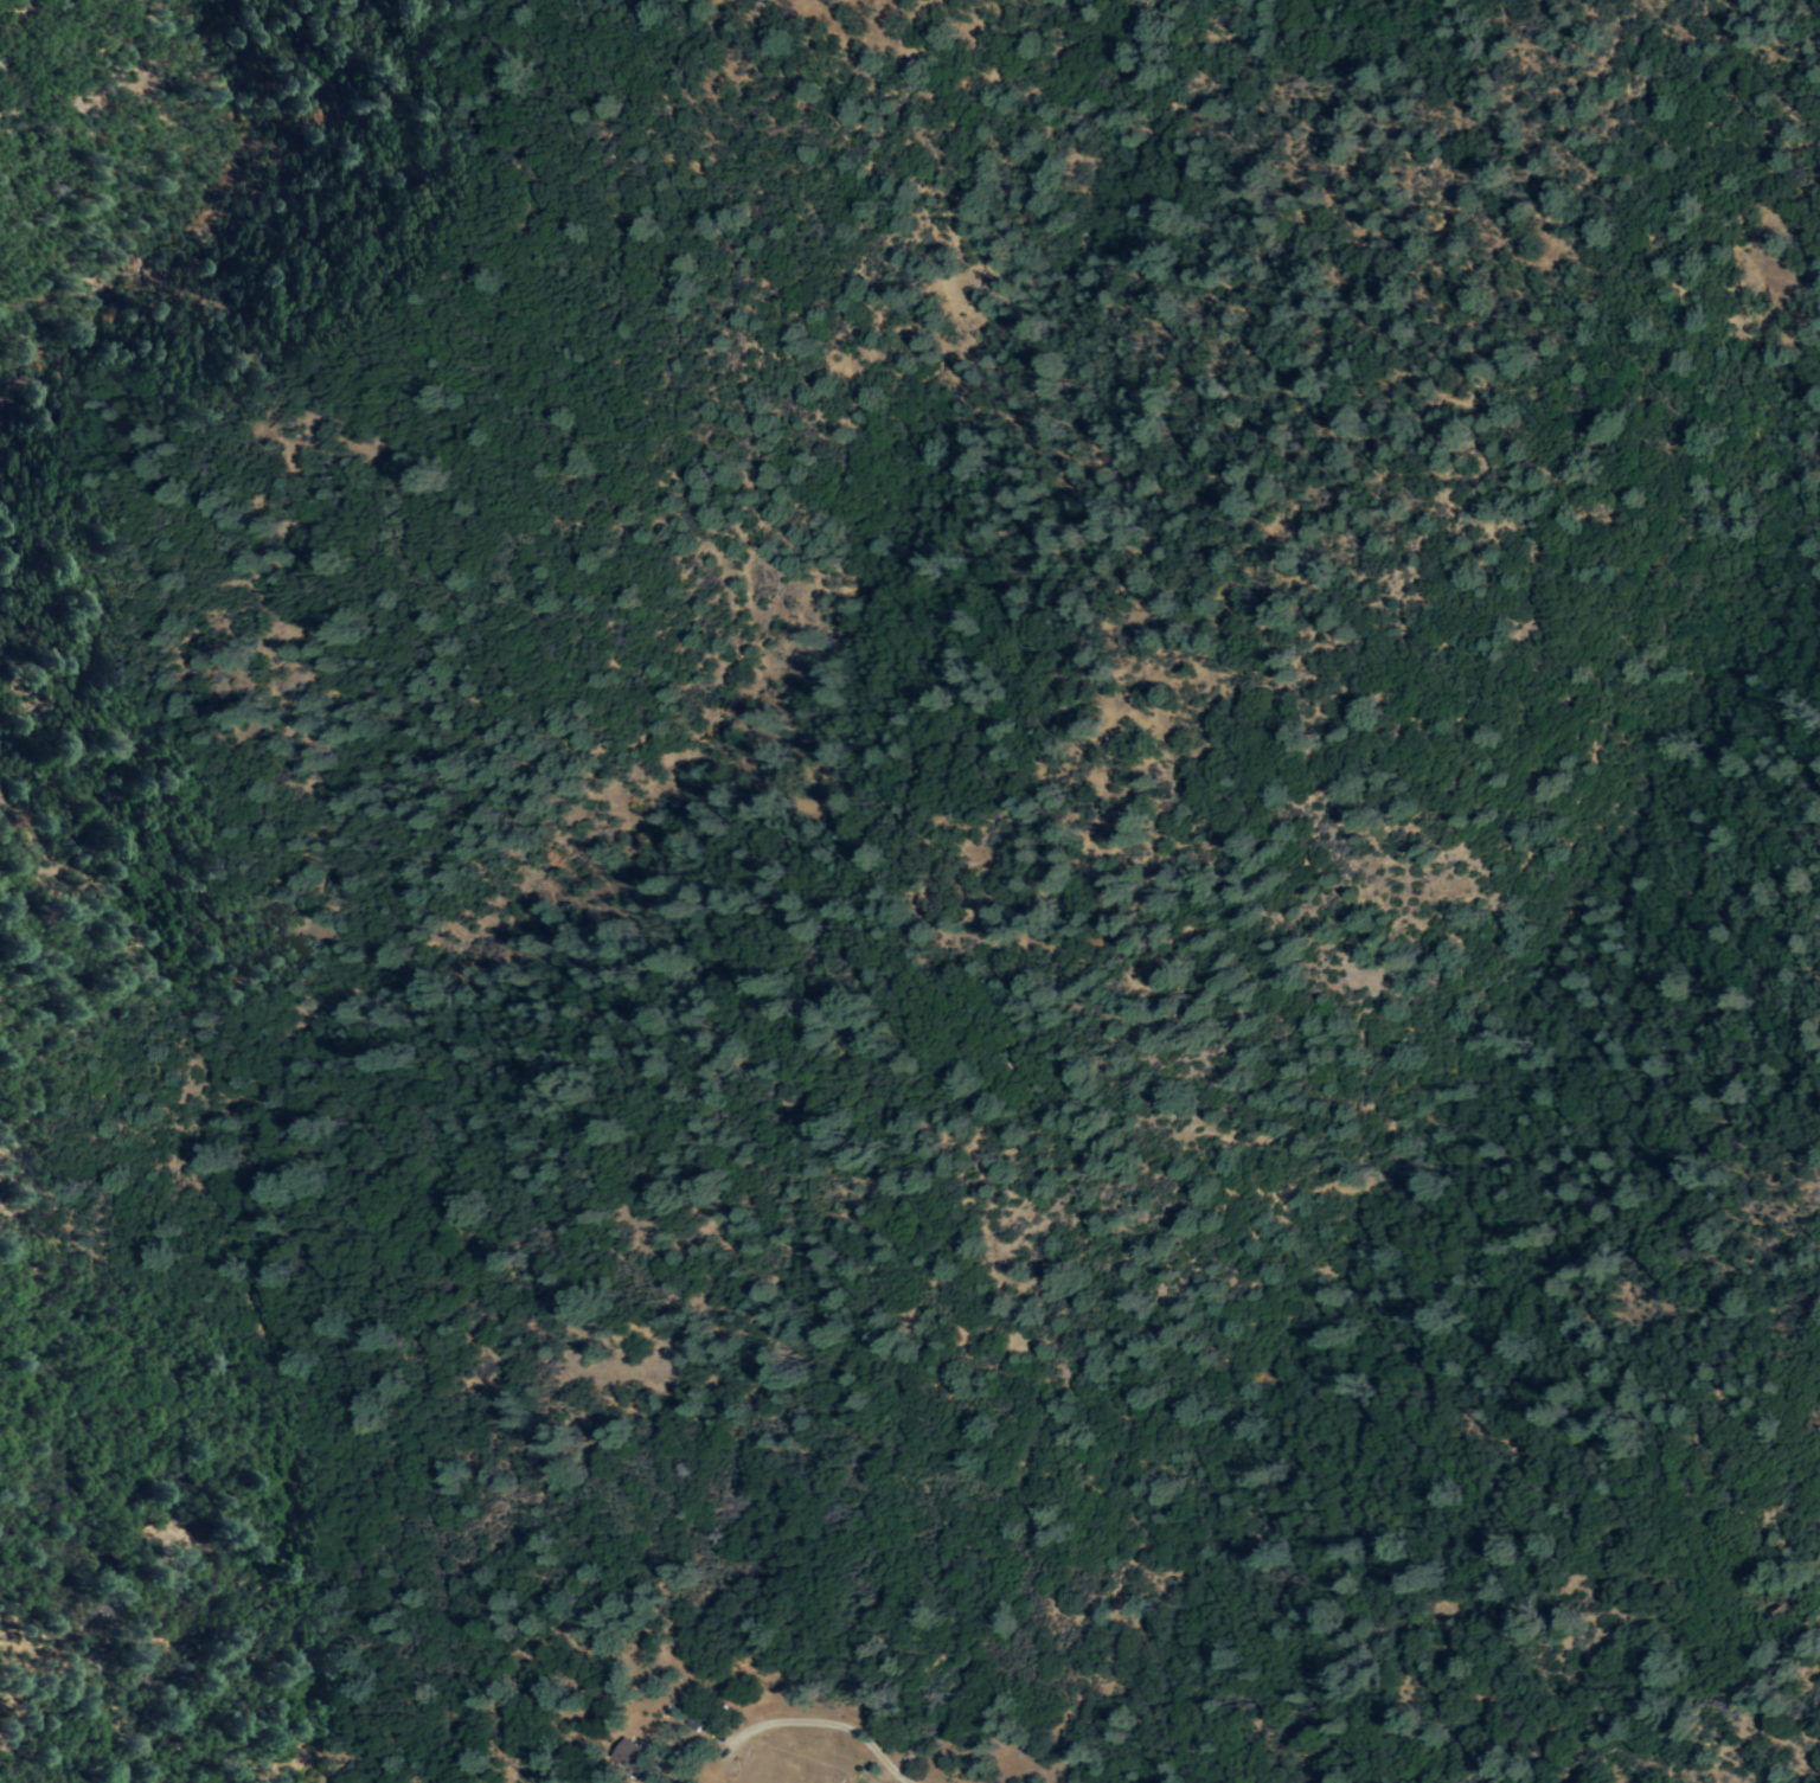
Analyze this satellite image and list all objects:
road: (838, 1725)
building: (632, 1756)

